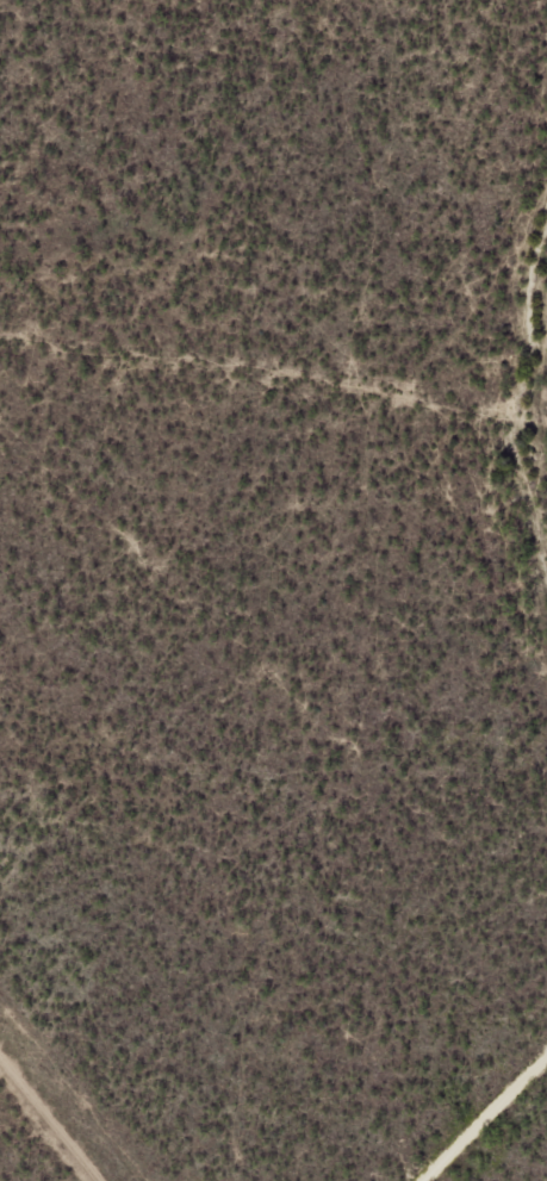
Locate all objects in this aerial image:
road: (504, 1139)

